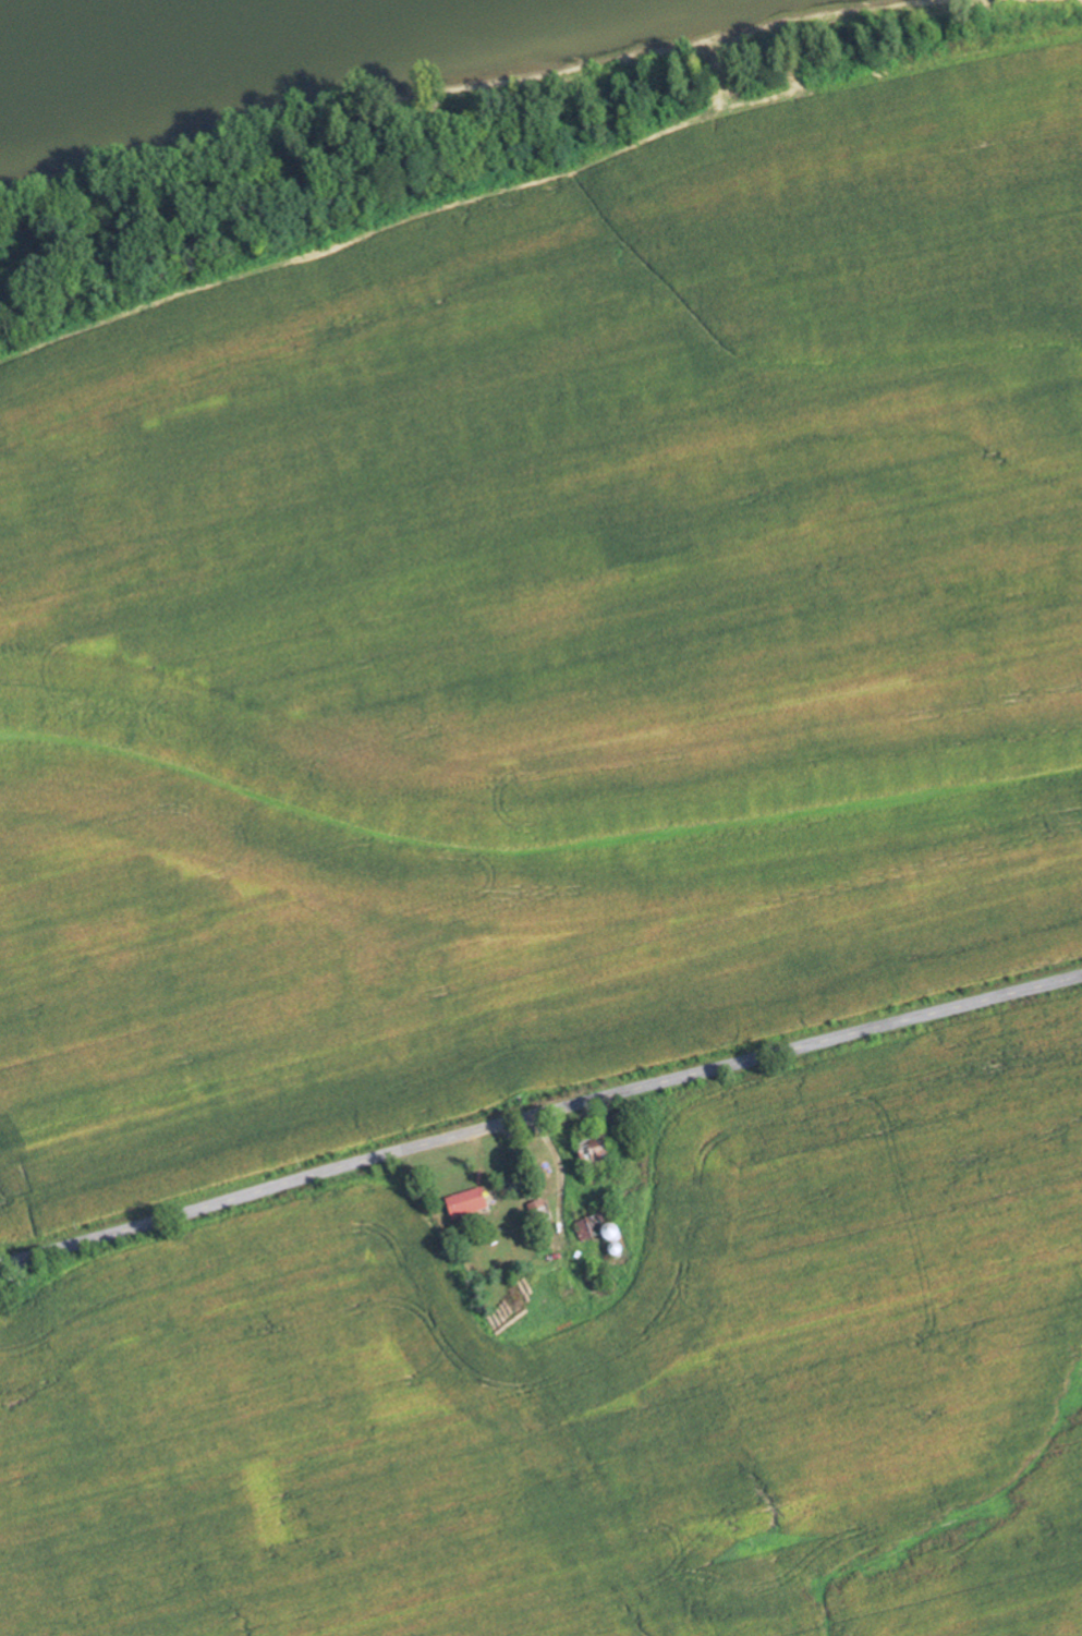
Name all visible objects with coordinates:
road: (539, 1113)

